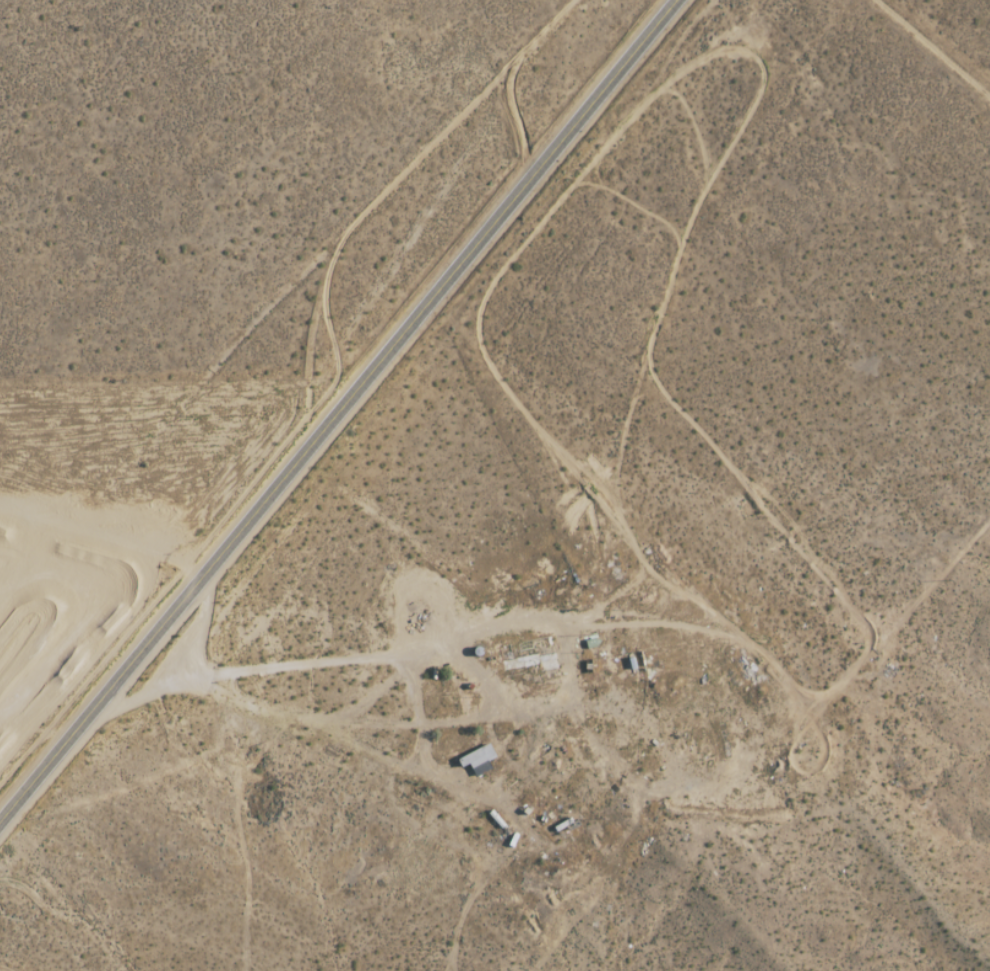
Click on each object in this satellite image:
road: (932, 48)
road: (339, 411)
road: (206, 625)
road: (432, 642)

